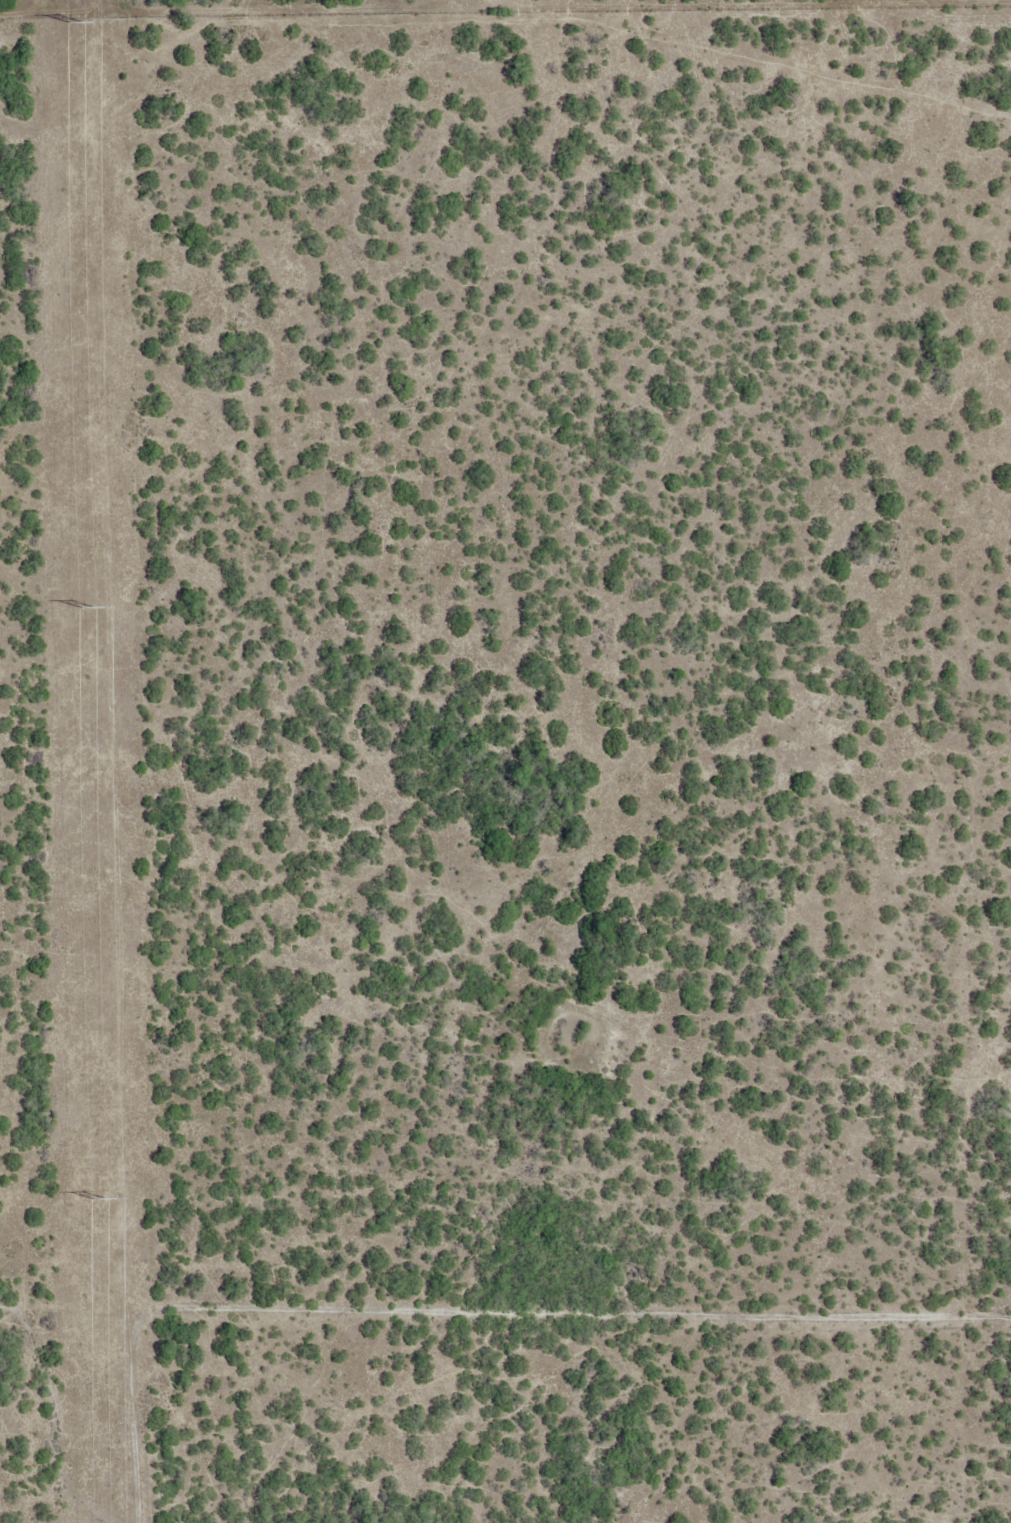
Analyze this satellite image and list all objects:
power tower: (78, 25)
power tower: (90, 607)
power tower: (101, 1197)
road: (505, 1295)

